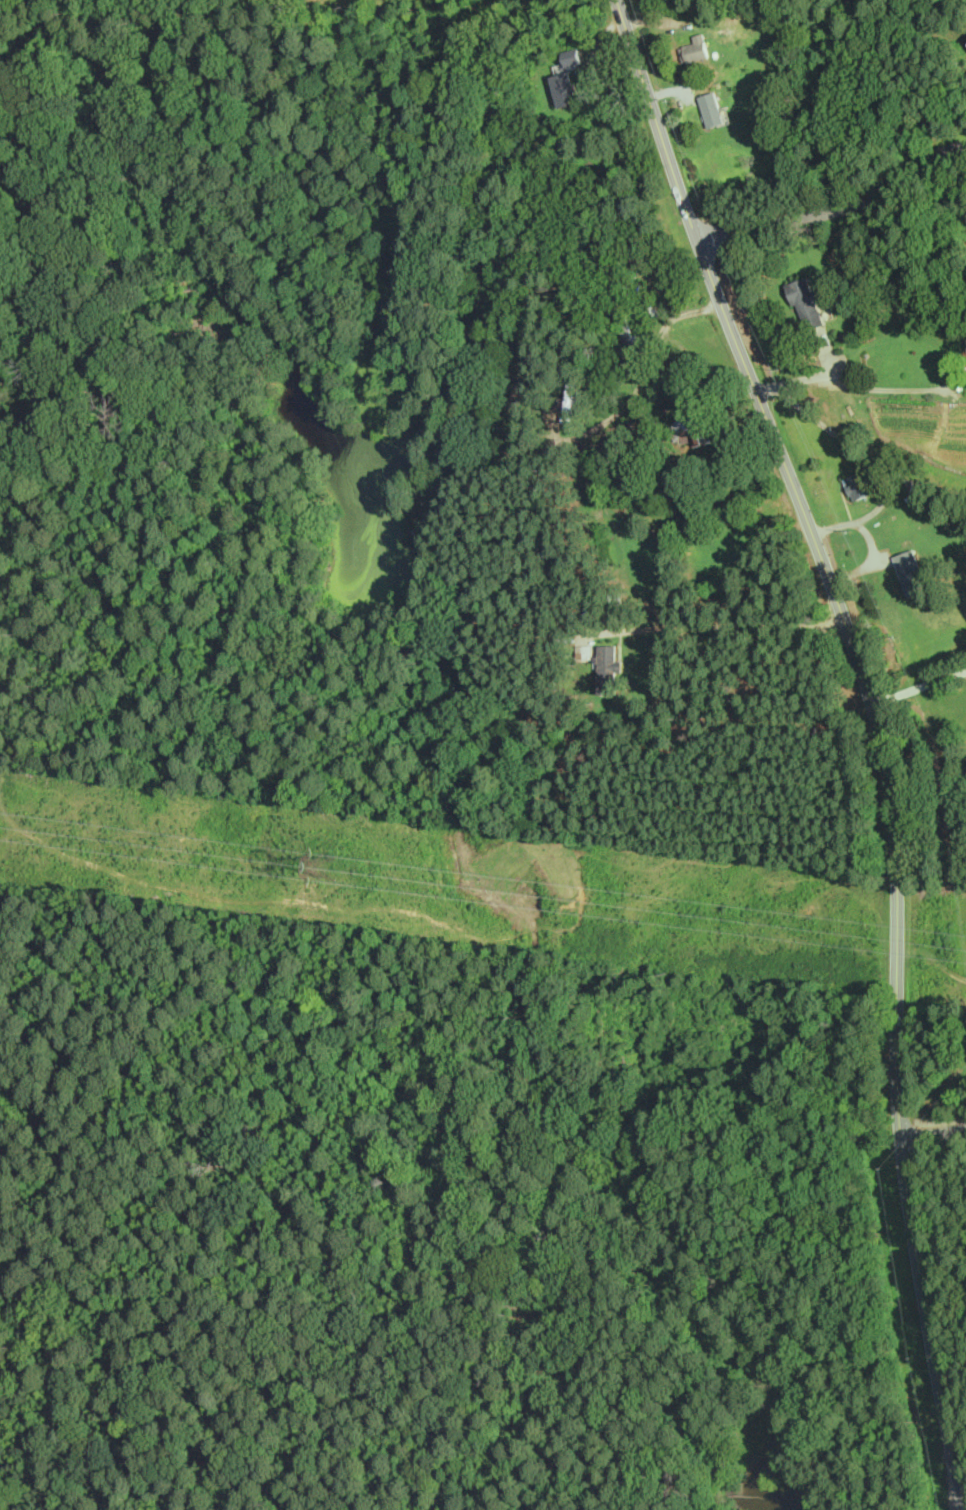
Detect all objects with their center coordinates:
building: (277, 0)
building: (694, 48)
building: (570, 56)
road: (661, 59)
road: (598, 79)
building: (561, 89)
road: (670, 90)
building: (709, 109)
road: (839, 208)
building: (584, 245)
building: (619, 281)
building: (803, 302)
building: (628, 326)
road: (827, 352)
road: (640, 381)
road: (857, 386)
building: (563, 398)
building: (690, 430)
road: (884, 476)
building: (683, 478)
building: (857, 484)
road: (846, 501)
road: (871, 540)
road: (860, 568)
building: (910, 574)
road: (712, 623)
road: (622, 650)
building: (582, 652)
building: (605, 664)
road: (920, 687)
road: (882, 734)
power tower: (332, 888)
road: (933, 1133)

